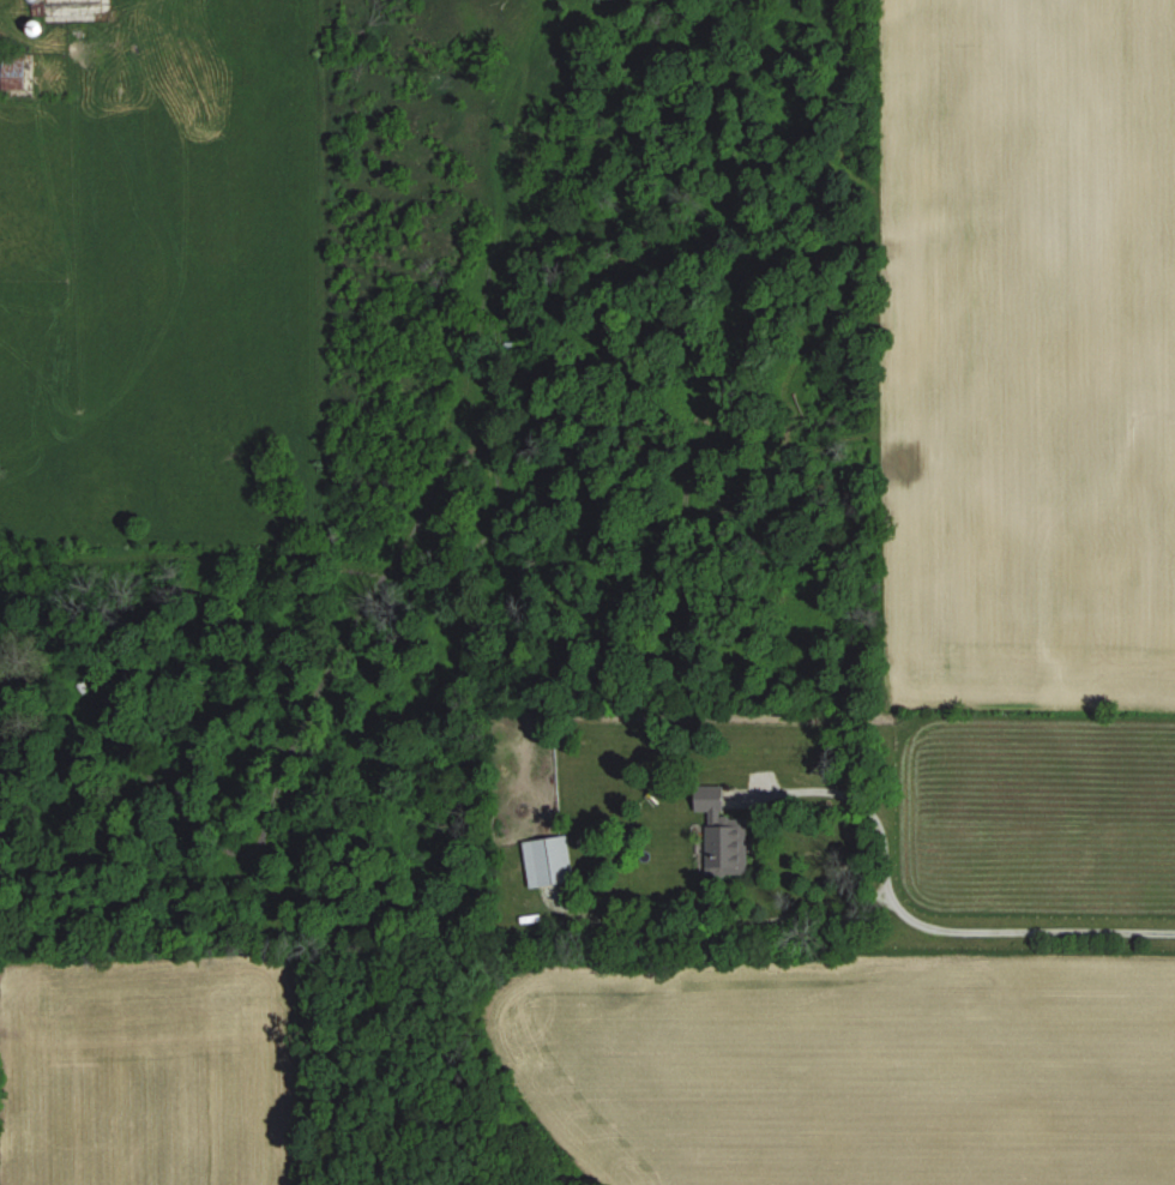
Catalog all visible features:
building: (719, 838)
building: (546, 861)
road: (921, 920)

